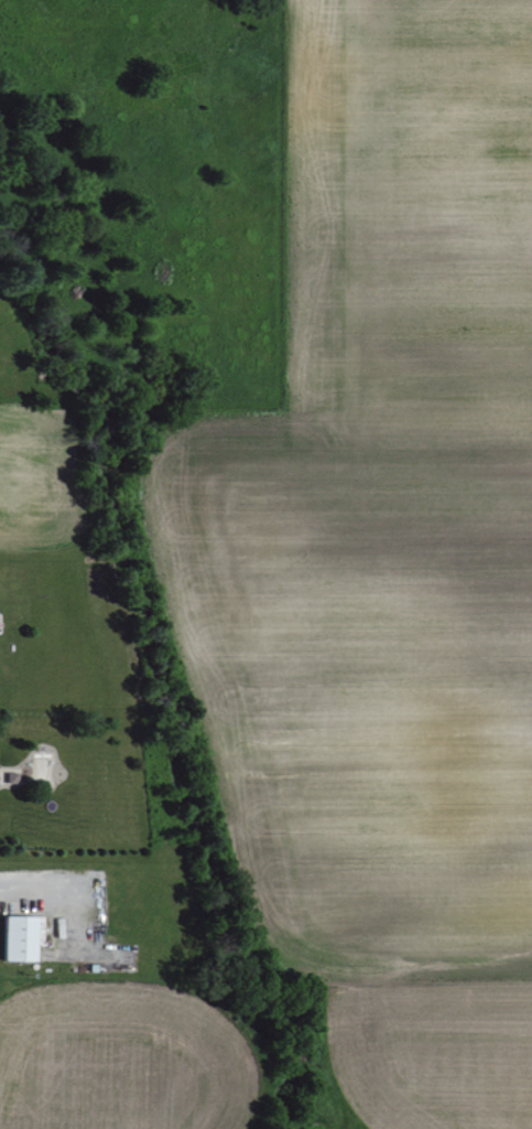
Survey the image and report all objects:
road: (51, 879)
building: (22, 937)

